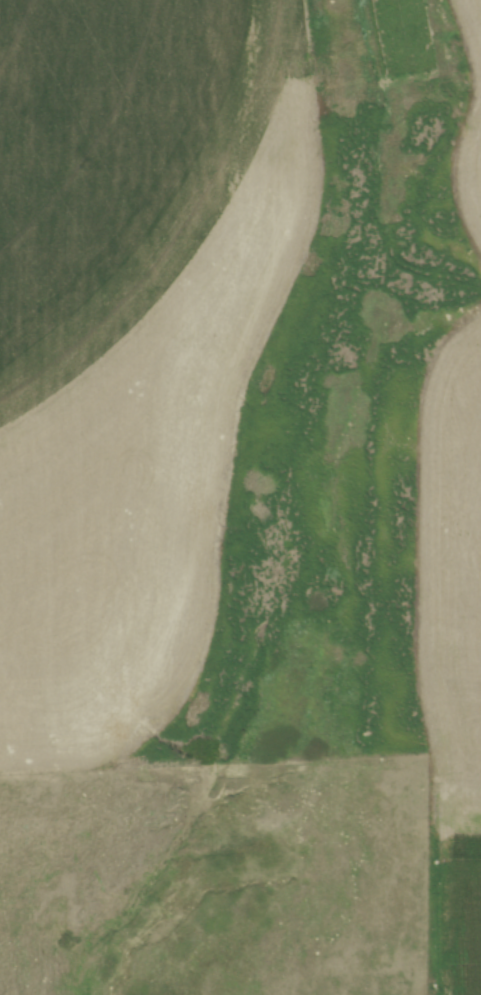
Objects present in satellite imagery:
crop: (115, 158)

